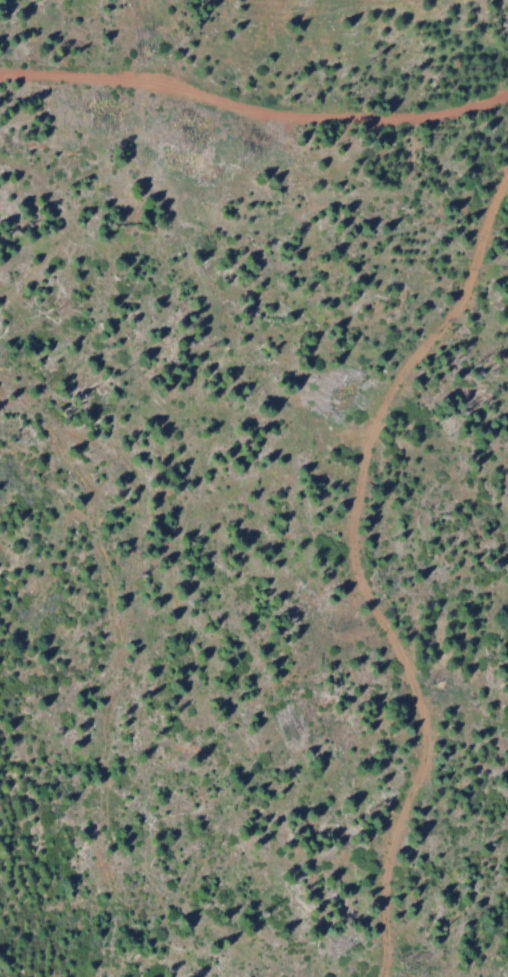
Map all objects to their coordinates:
road: (253, 109)
road: (354, 562)

